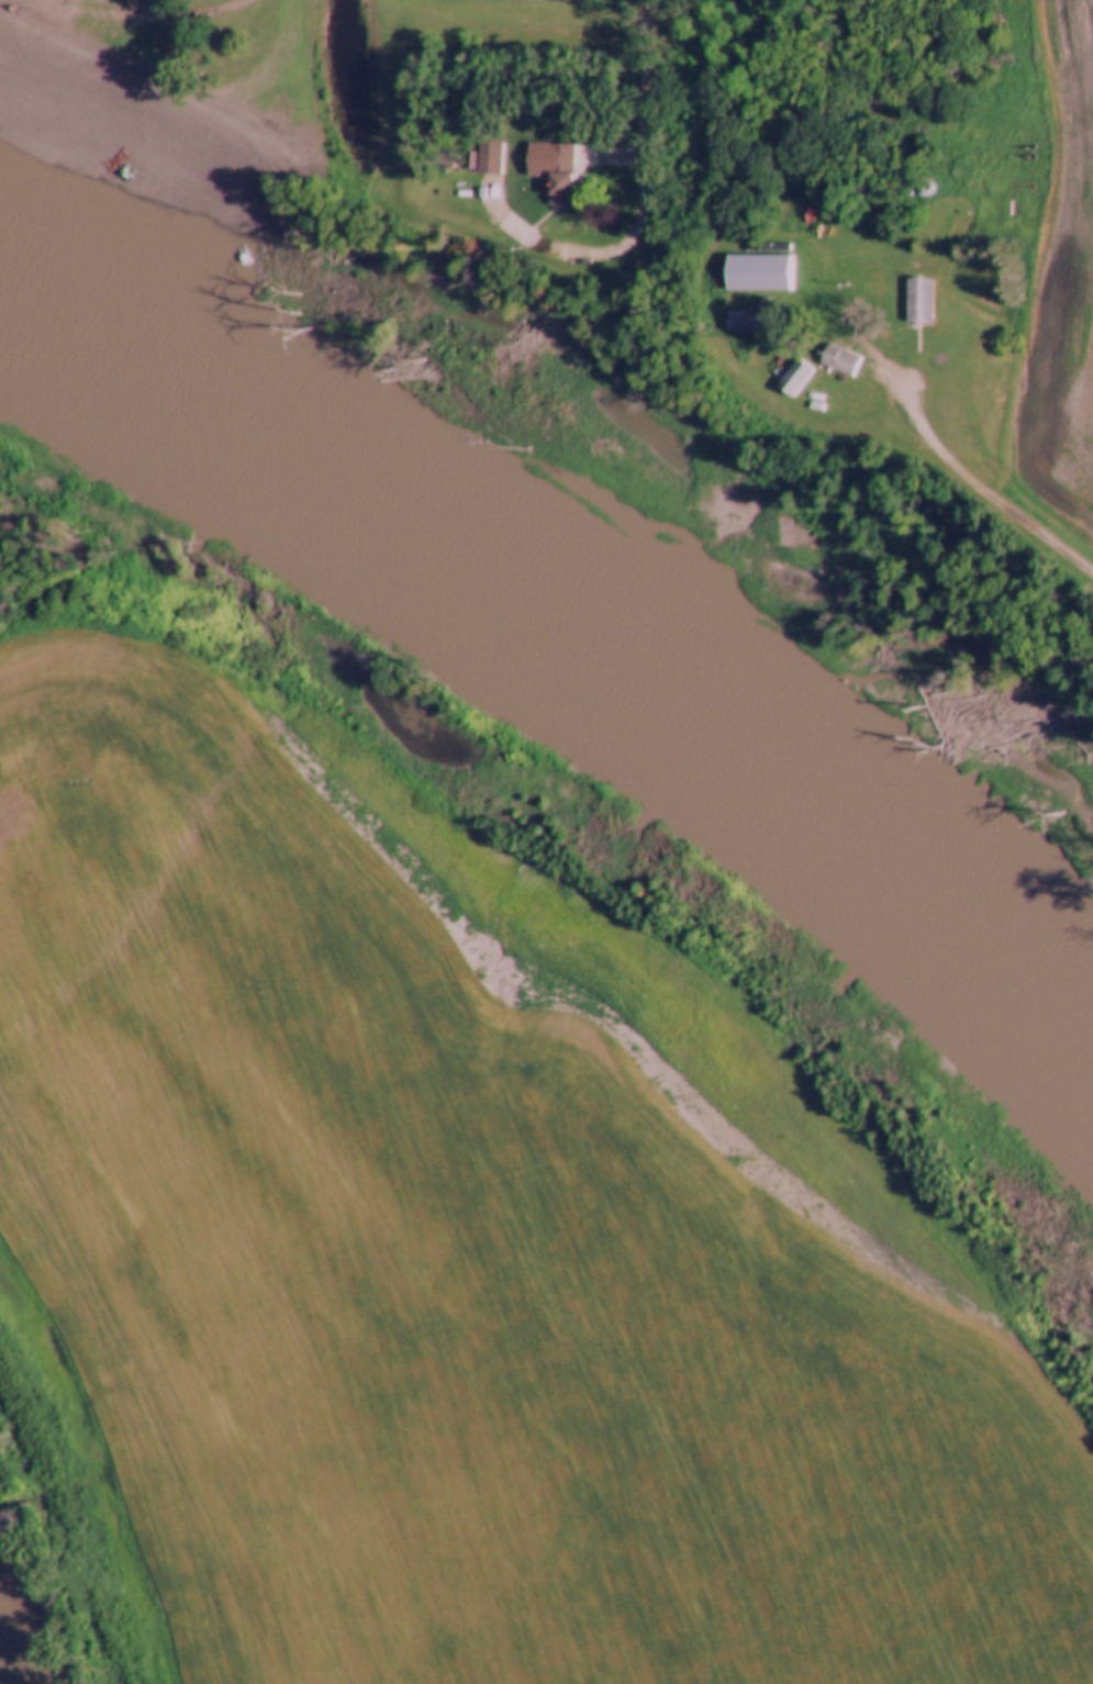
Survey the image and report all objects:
building: (41, 7)
road: (175, 10)
road: (605, 153)
building: (489, 156)
building: (560, 174)
road: (634, 208)
building: (758, 274)
building: (917, 300)
building: (839, 360)
building: (794, 378)
road: (967, 479)
river: (581, 658)

